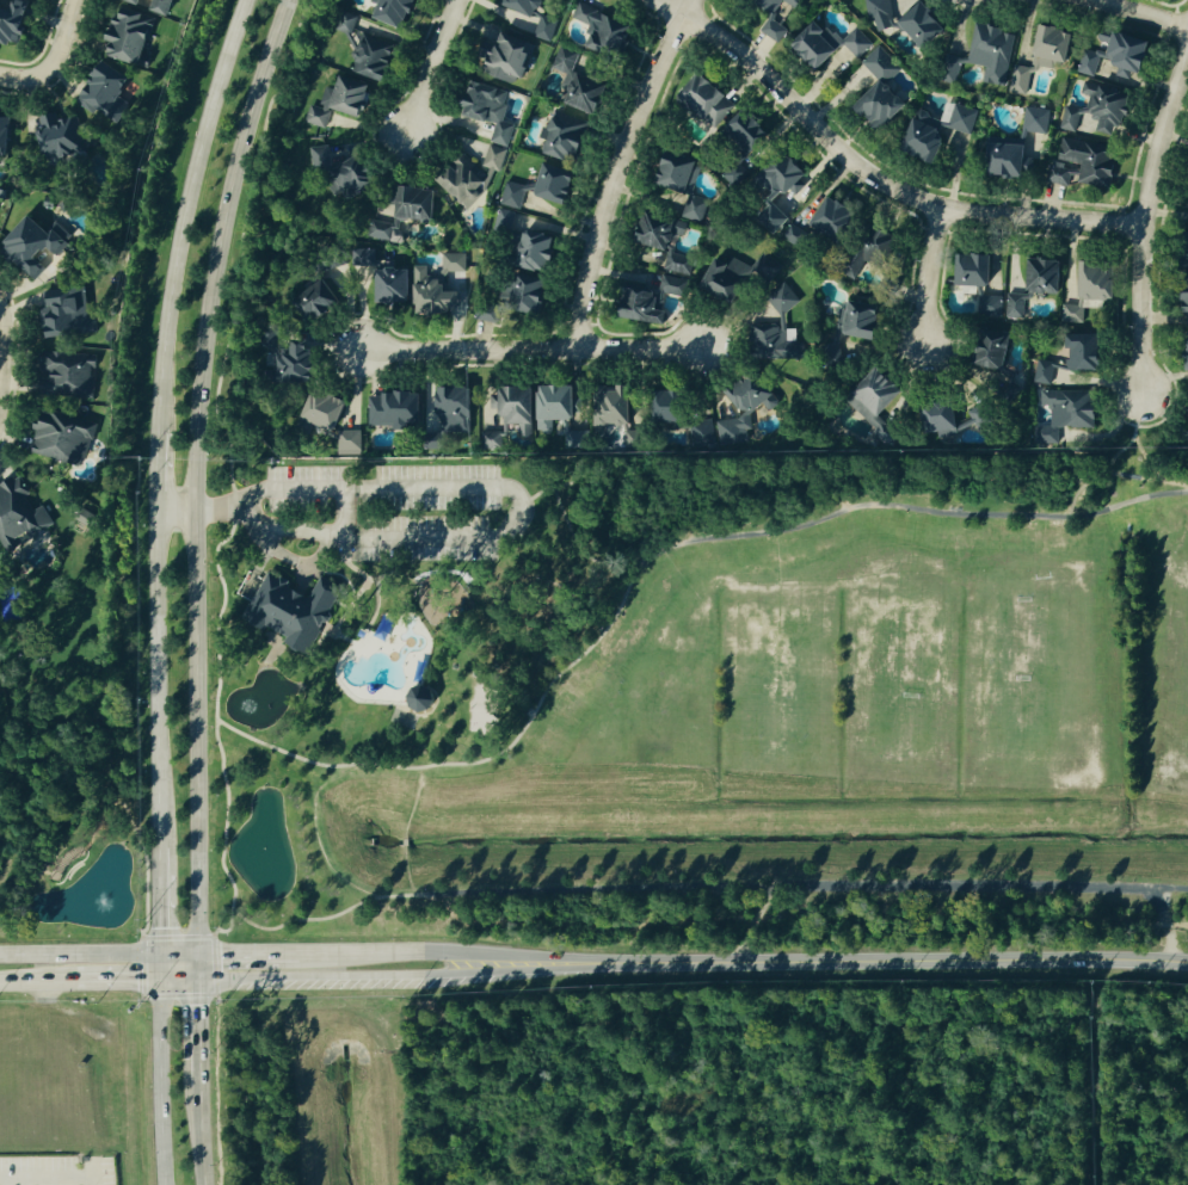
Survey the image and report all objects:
building: (137, 1)
building: (770, 2)
building: (795, 2)
building: (166, 6)
building: (399, 11)
road: (1137, 11)
building: (882, 13)
building: (587, 14)
building: (536, 17)
building: (16, 20)
building: (927, 24)
building: (776, 29)
building: (613, 35)
building: (134, 36)
building: (831, 43)
building: (1044, 47)
building: (987, 53)
building: (1107, 55)
building: (515, 56)
road: (51, 57)
building: (377, 57)
road: (429, 66)
building: (1016, 81)
building: (581, 84)
building: (886, 90)
building: (110, 92)
building: (710, 99)
building: (343, 101)
building: (493, 110)
building: (960, 119)
building: (1033, 122)
building: (752, 131)
building: (6, 132)
building: (63, 137)
building: (571, 138)
building: (495, 158)
building: (322, 159)
building: (998, 159)
building: (1078, 163)
road: (617, 167)
road: (866, 171)
building: (682, 173)
building: (789, 175)
building: (362, 177)
building: (469, 183)
building: (560, 185)
building: (516, 195)
building: (420, 203)
road: (1144, 208)
building: (697, 209)
road: (185, 215)
building: (839, 220)
building: (506, 221)
building: (390, 233)
building: (670, 243)
building: (36, 245)
building: (881, 247)
building: (541, 251)
building: (1186, 253)
building: (456, 263)
building: (967, 271)
building: (739, 276)
road: (929, 276)
building: (389, 277)
building: (1030, 285)
building: (1087, 285)
building: (677, 286)
building: (438, 295)
building: (519, 298)
building: (321, 301)
building: (1180, 301)
building: (991, 307)
building: (651, 308)
building: (70, 311)
building: (864, 322)
building: (781, 329)
road: (530, 347)
building: (981, 351)
building: (1075, 351)
building: (1182, 352)
road: (1, 353)
building: (303, 363)
building: (74, 371)
building: (1041, 371)
building: (868, 397)
building: (617, 405)
building: (675, 406)
building: (1183, 406)
building: (330, 409)
building: (398, 409)
building: (460, 409)
building: (747, 411)
building: (565, 413)
building: (1061, 413)
building: (518, 415)
building: (942, 419)
building: (704, 436)
building: (64, 437)
building: (638, 439)
building: (351, 443)
road: (1116, 452)
road: (196, 471)
road: (155, 473)
road: (518, 506)
road: (228, 507)
road: (211, 510)
road: (174, 511)
building: (20, 513)
road: (651, 560)
building: (291, 610)
park: (670, 619)
road: (155, 679)
building: (427, 698)
road: (410, 803)
road: (316, 844)
road: (404, 844)
road: (405, 871)
road: (527, 894)
road: (156, 902)
road: (802, 925)
road: (214, 937)
road: (338, 953)
road: (247, 955)
traffic signals: (156, 956)
road: (176, 956)
traffic signals: (196, 956)
road: (466, 956)
road: (78, 957)
road: (870, 962)
road: (195, 968)
road: (277, 979)
traffic signals: (156, 981)
traffic signals: (195, 981)
road: (197, 1031)
road: (159, 1070)
road: (201, 1134)
road: (51, 1178)

